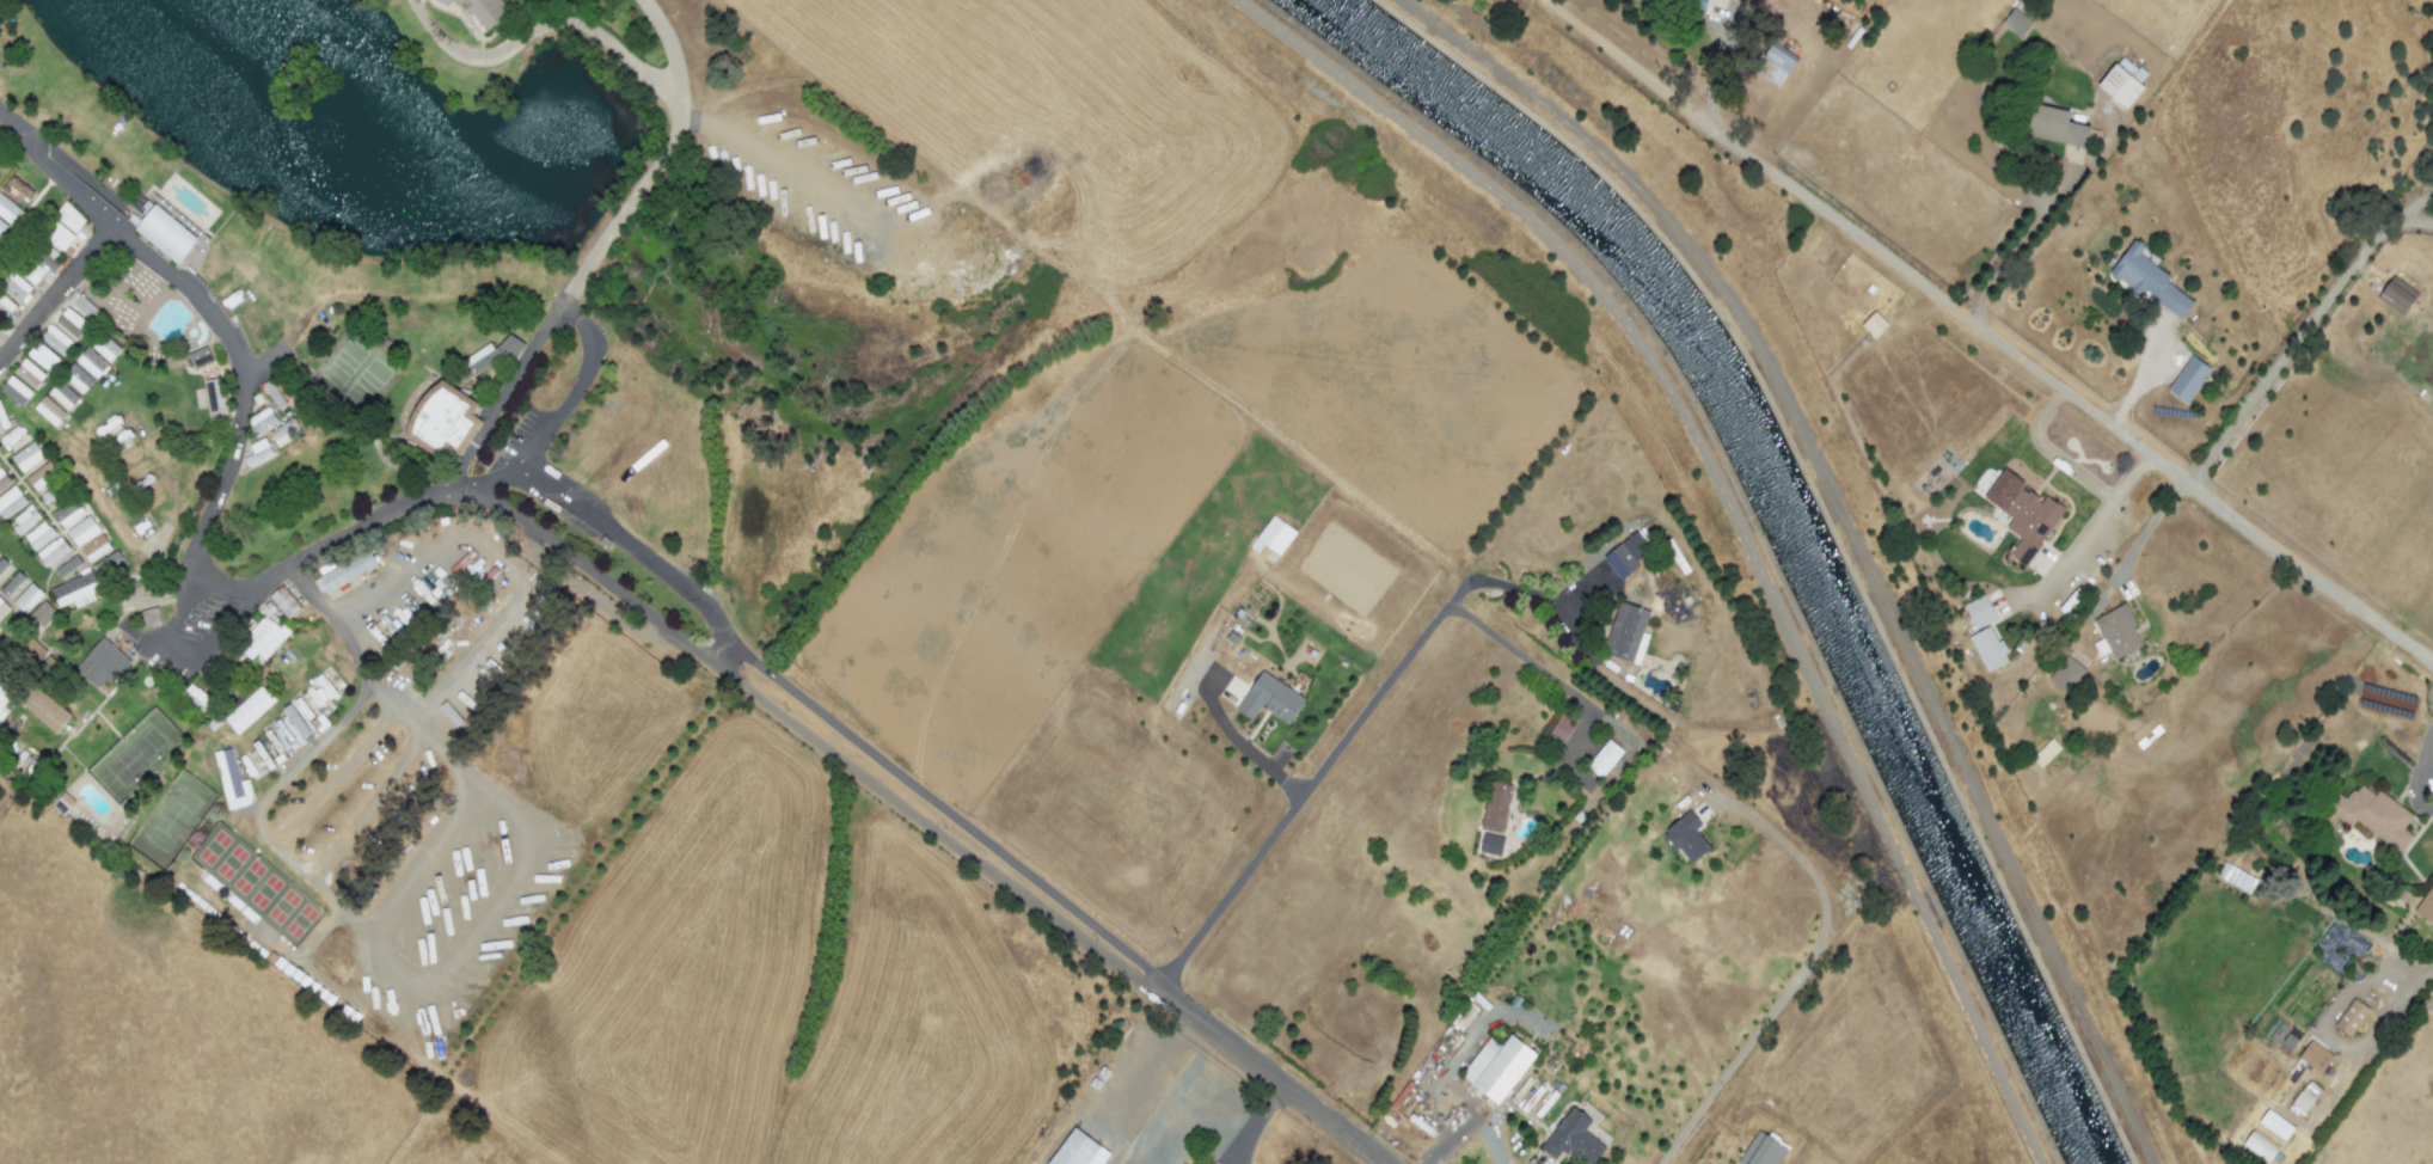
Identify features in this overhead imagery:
building: (1691, 4)
building: (482, 10)
building: (2016, 23)
road: (544, 27)
building: (1775, 63)
building: (2122, 82)
building: (2055, 127)
road: (663, 153)
road: (49, 169)
building: (7, 213)
building: (69, 218)
building: (165, 234)
building: (57, 237)
road: (2015, 244)
building: (194, 253)
building: (47, 255)
building: (33, 272)
parking lot: (192, 280)
building: (2149, 281)
building: (16, 286)
building: (82, 306)
parking lot: (217, 310)
building: (71, 324)
building: (1874, 324)
road: (2299, 329)
road: (1985, 333)
parking lot: (238, 337)
building: (55, 339)
building: (105, 348)
road: (7, 357)
building: (42, 357)
building: (486, 357)
park: (342, 361)
building: (92, 363)
building: (29, 373)
building: (78, 379)
park: (364, 381)
building: (16, 391)
building: (274, 393)
building: (63, 396)
building: (213, 397)
road: (568, 400)
building: (49, 411)
building: (2, 421)
building: (261, 421)
building: (442, 421)
parking lot: (521, 433)
building: (271, 442)
road: (2052, 454)
building: (26, 458)
road: (486, 479)
building: (44, 484)
building: (8, 497)
road: (216, 506)
building: (68, 514)
building: (2022, 514)
road: (2102, 515)
building: (25, 519)
building: (82, 531)
building: (38, 535)
building: (1273, 535)
building: (94, 549)
building: (53, 552)
building: (1628, 555)
building: (67, 566)
building: (344, 572)
building: (11, 584)
building: (80, 586)
building: (27, 598)
building: (1, 606)
building: (1979, 612)
building: (42, 614)
building: (149, 617)
building: (2118, 632)
building: (1626, 633)
building: (30, 649)
building: (1987, 649)
road: (1522, 661)
building: (102, 663)
building: (2066, 674)
building: (4, 698)
building: (197, 699)
building: (1270, 699)
building: (44, 710)
building: (249, 710)
building: (295, 721)
building: (1561, 729)
road: (1350, 731)
building: (1604, 759)
road: (853, 767)
building: (232, 780)
building: (1495, 805)
building: (2371, 815)
building: (1686, 838)
building: (1490, 844)
building: (2233, 877)
building: (2426, 906)
road: (1794, 974)
building: (2351, 1017)
building: (2315, 1056)
building: (1497, 1067)
building: (2305, 1096)
road: (1469, 1120)
building: (2275, 1125)
building: (1573, 1139)
building: (2259, 1145)
building: (1079, 1150)
building: (1761, 1151)

